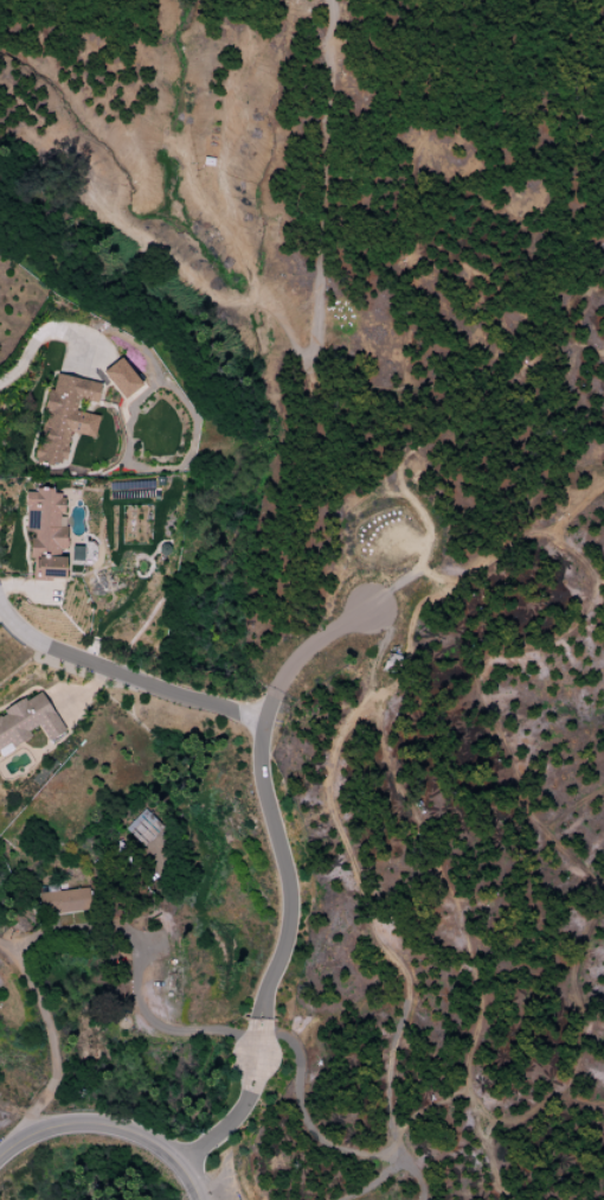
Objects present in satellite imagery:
road: (43, 333)
building: (121, 378)
building: (65, 416)
building: (45, 534)
building: (76, 554)
road: (122, 674)
building: (27, 721)
road: (265, 791)
building: (142, 828)
building: (64, 900)
road: (75, 928)
road: (163, 1028)
road: (262, 1030)
road: (53, 1043)
road: (234, 1118)
road: (103, 1136)

